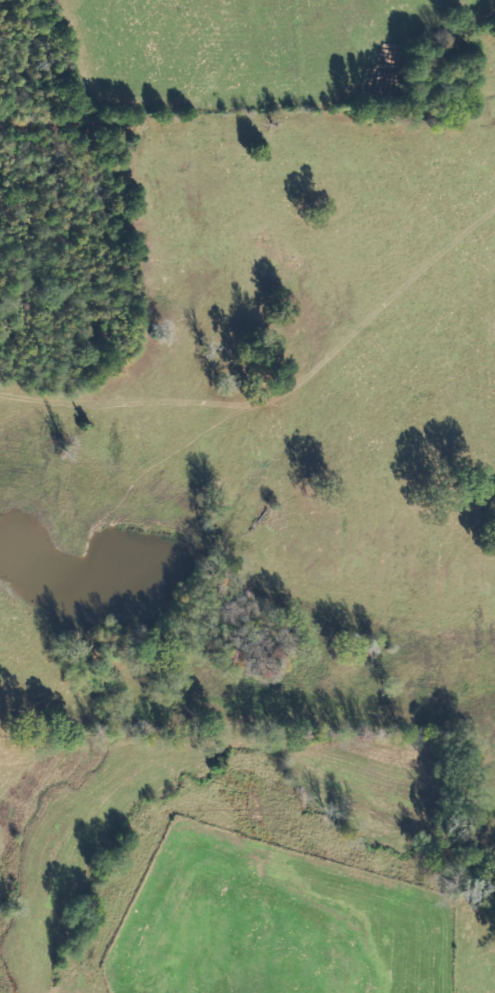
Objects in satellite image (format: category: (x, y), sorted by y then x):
road: (486, 426)

